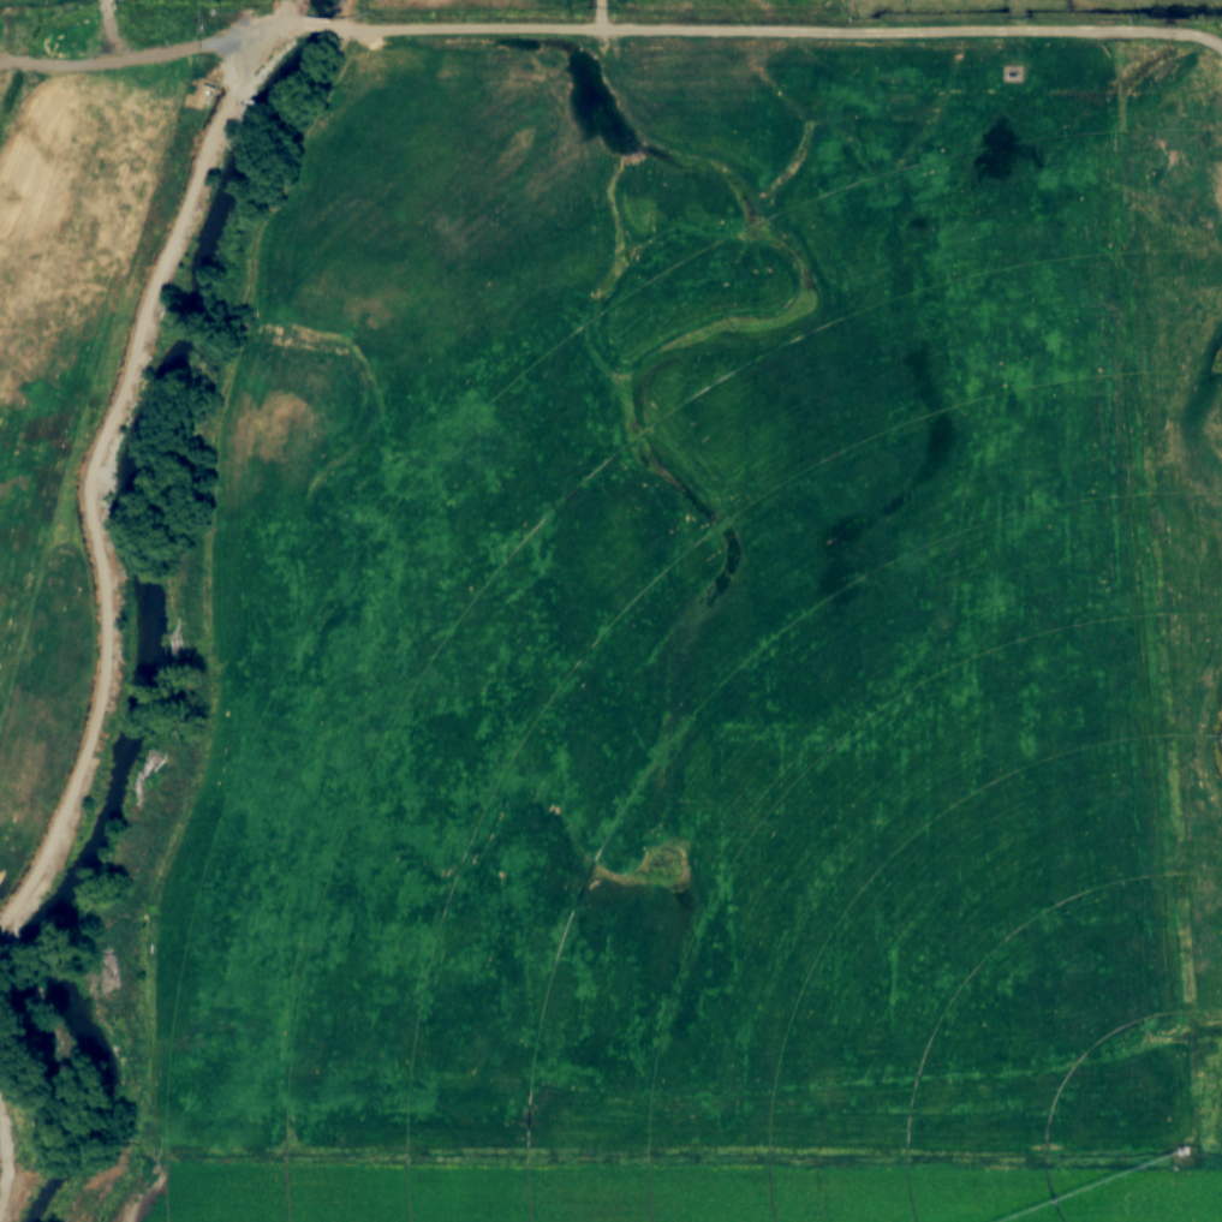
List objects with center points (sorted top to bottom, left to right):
river: (139, 606)

